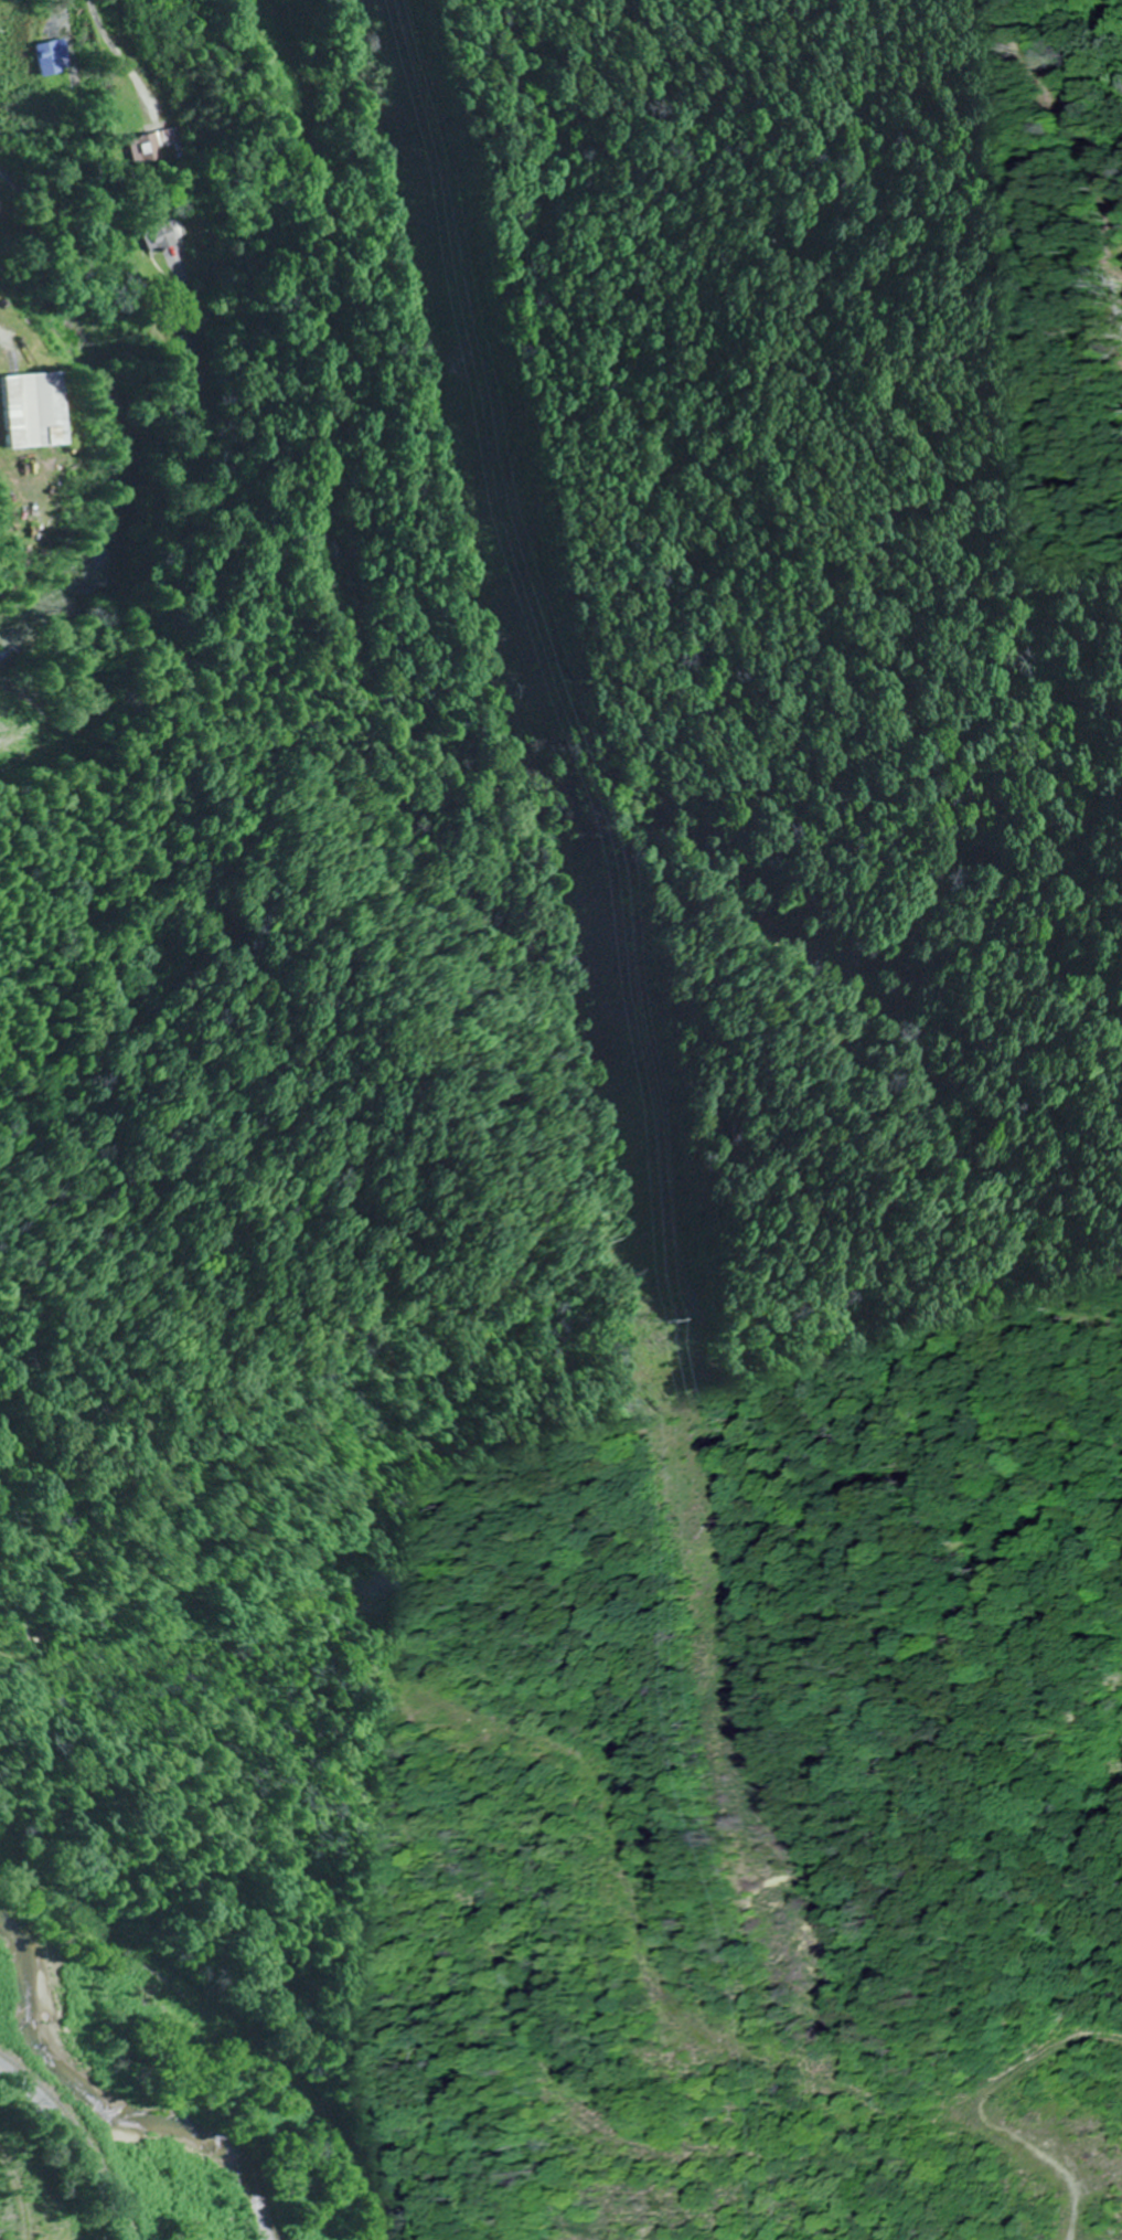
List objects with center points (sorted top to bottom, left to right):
building: (45, 57)
building: (145, 147)
building: (160, 232)
building: (34, 411)
railway: (242, 2026)
road: (73, 2144)

